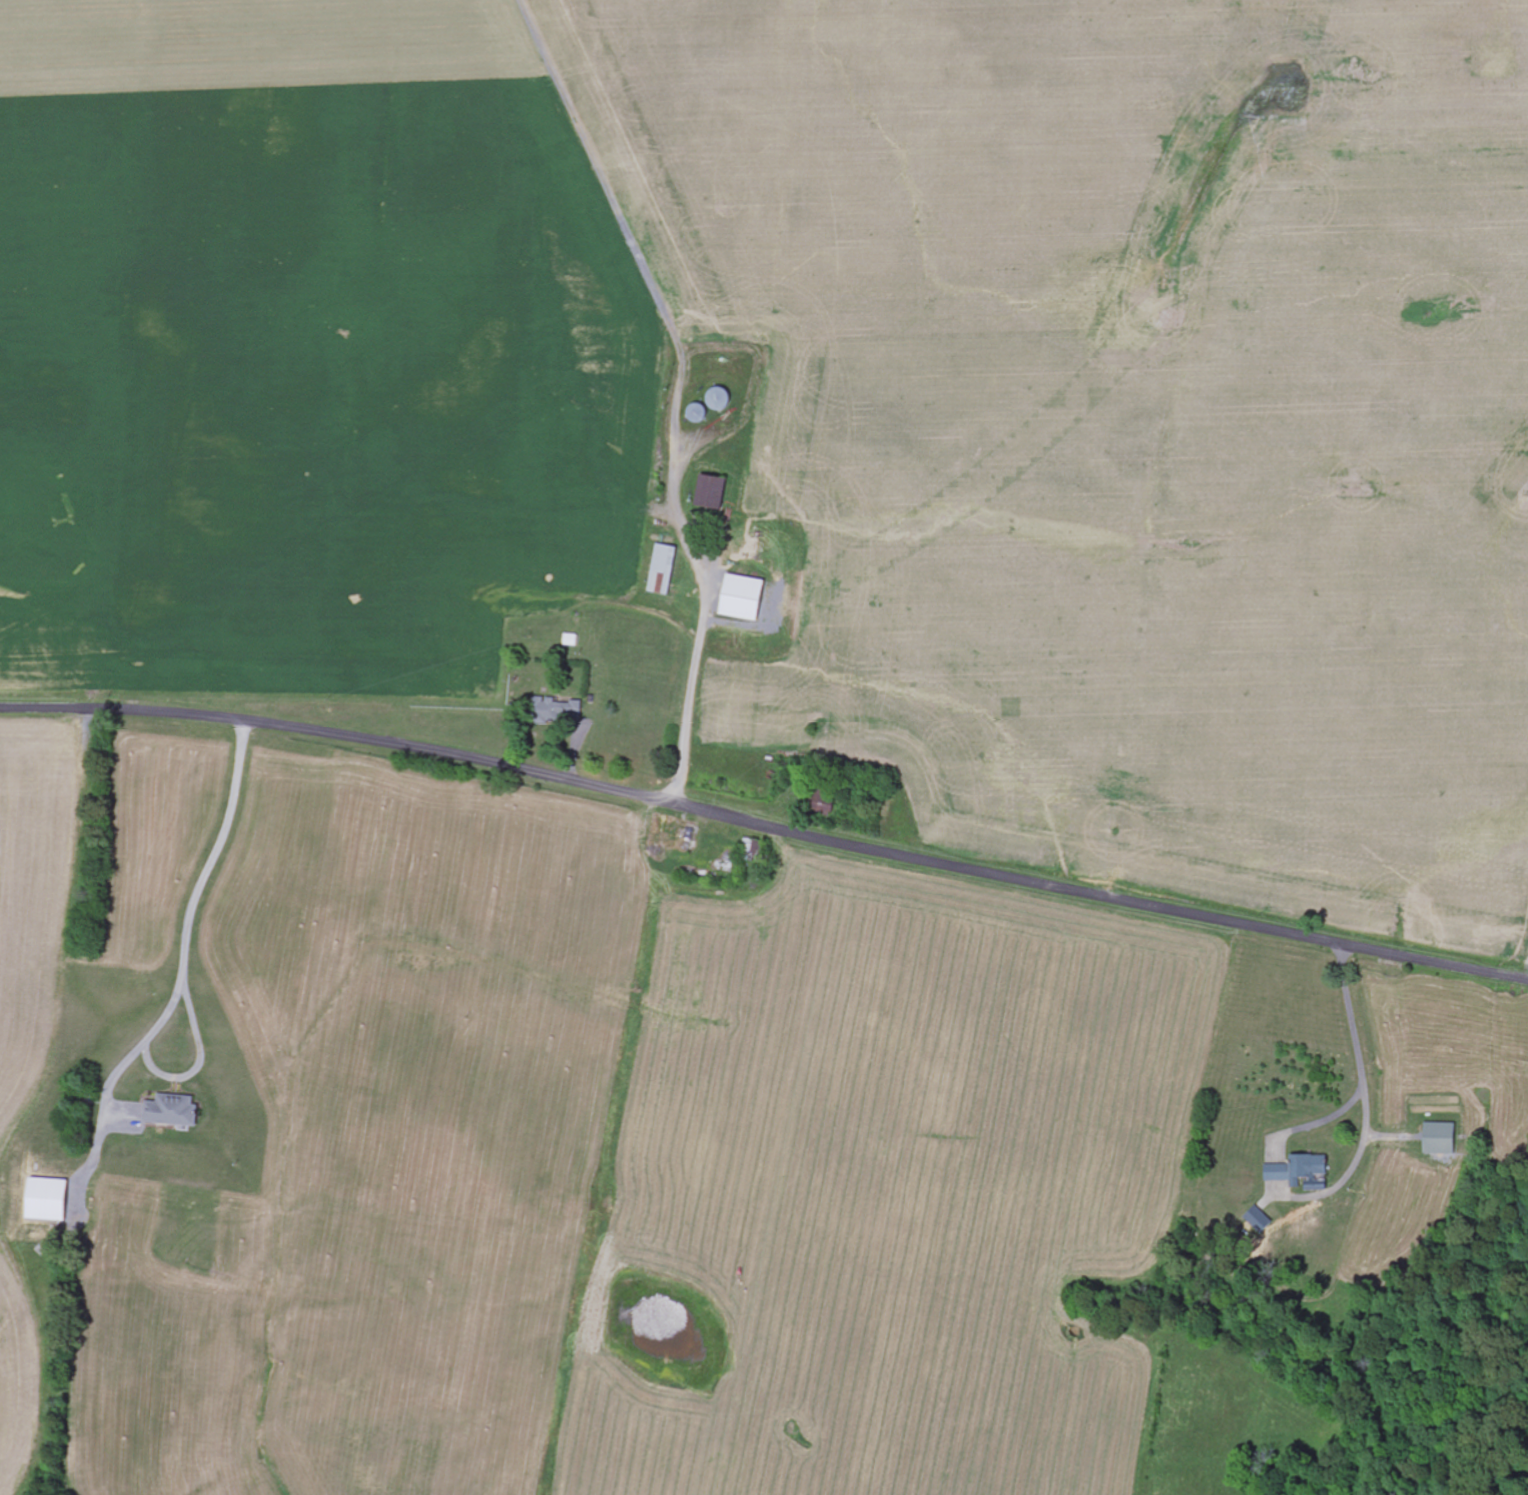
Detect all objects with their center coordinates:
building: (712, 491)
building: (663, 569)
building: (742, 597)
road: (906, 686)
building: (555, 711)
road: (704, 810)
road: (1466, 968)
road: (1363, 1090)
building: (172, 1111)
building: (1441, 1139)
building: (1299, 1170)
building: (47, 1200)
building: (1260, 1220)

